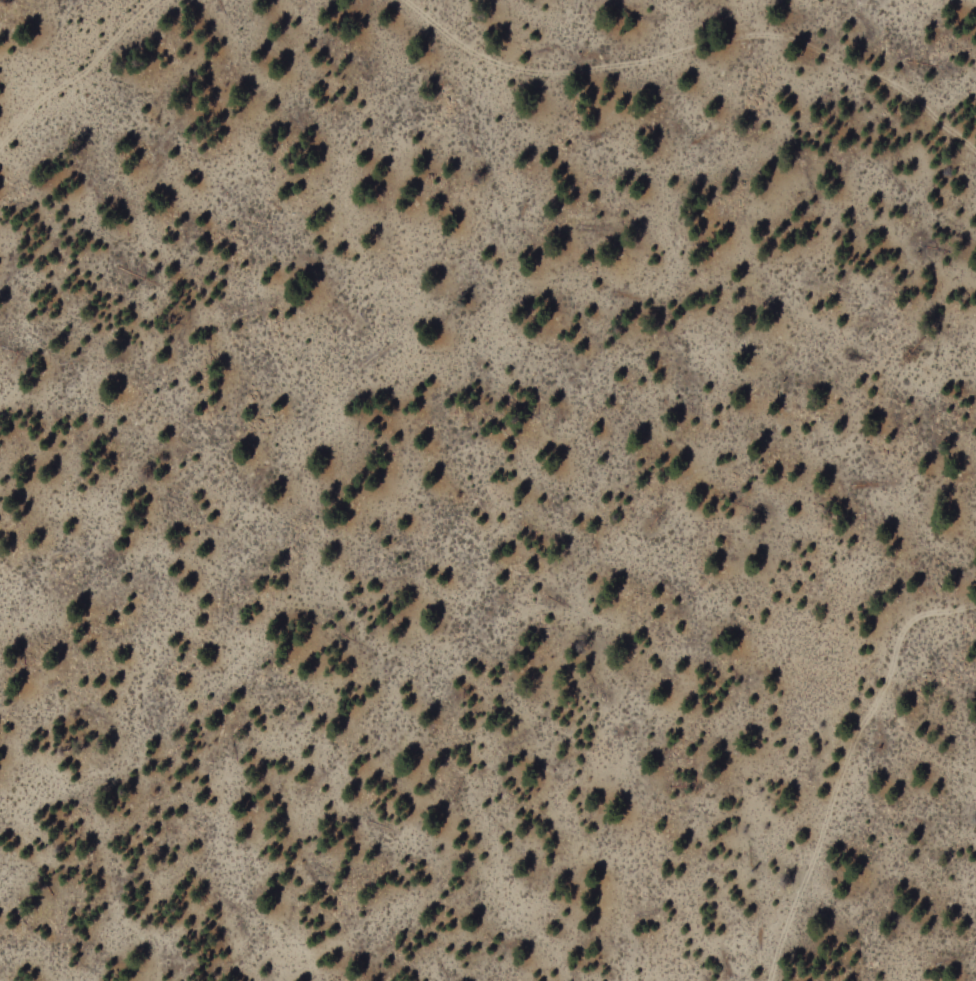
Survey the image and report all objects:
road: (701, 45)
road: (78, 75)
road: (858, 771)

